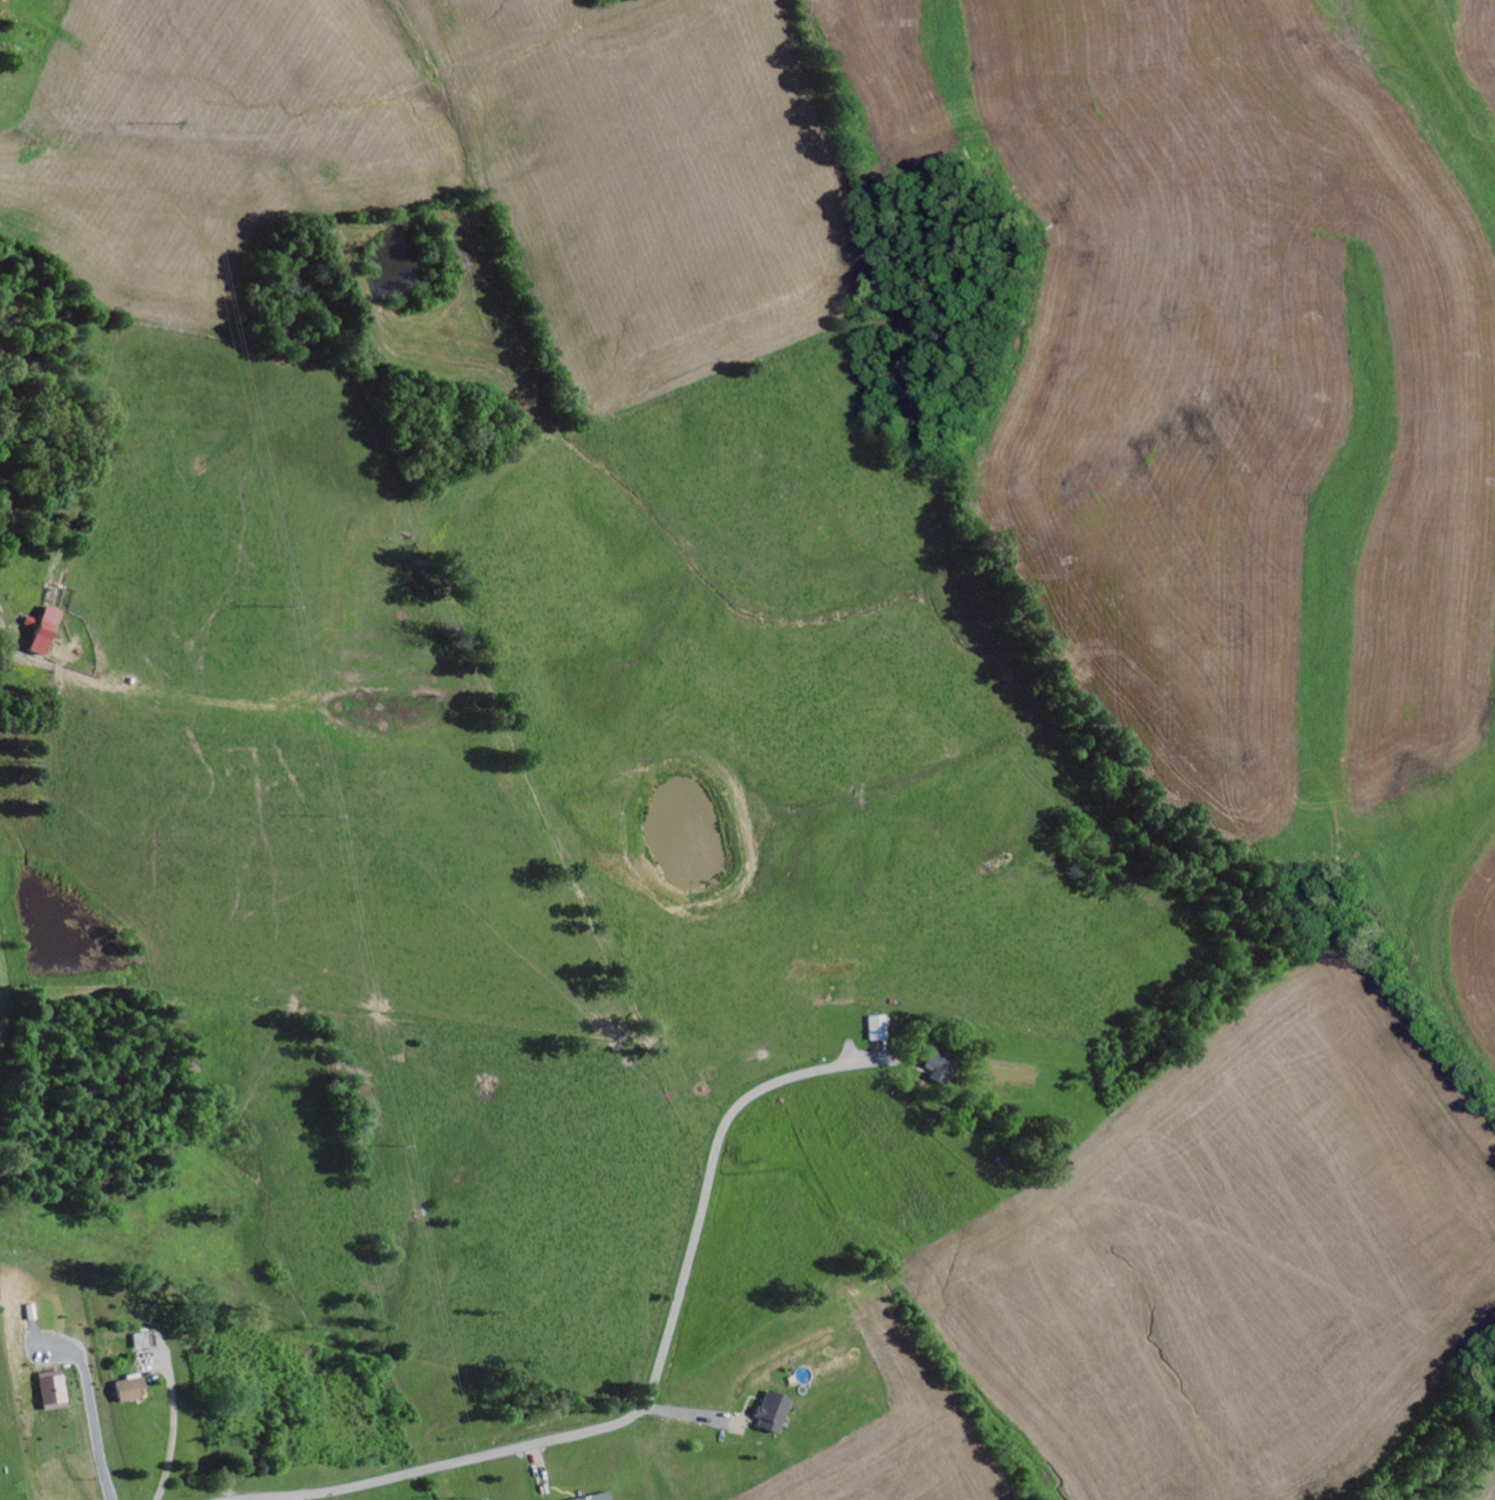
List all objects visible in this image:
building: (46, 632)
building: (879, 1029)
building: (943, 1066)
road: (679, 1295)
building: (127, 1388)
building: (50, 1394)
building: (774, 1413)
road: (173, 1428)
road: (93, 1435)
road: (363, 1485)
building: (601, 1497)
road: (288, 1498)

